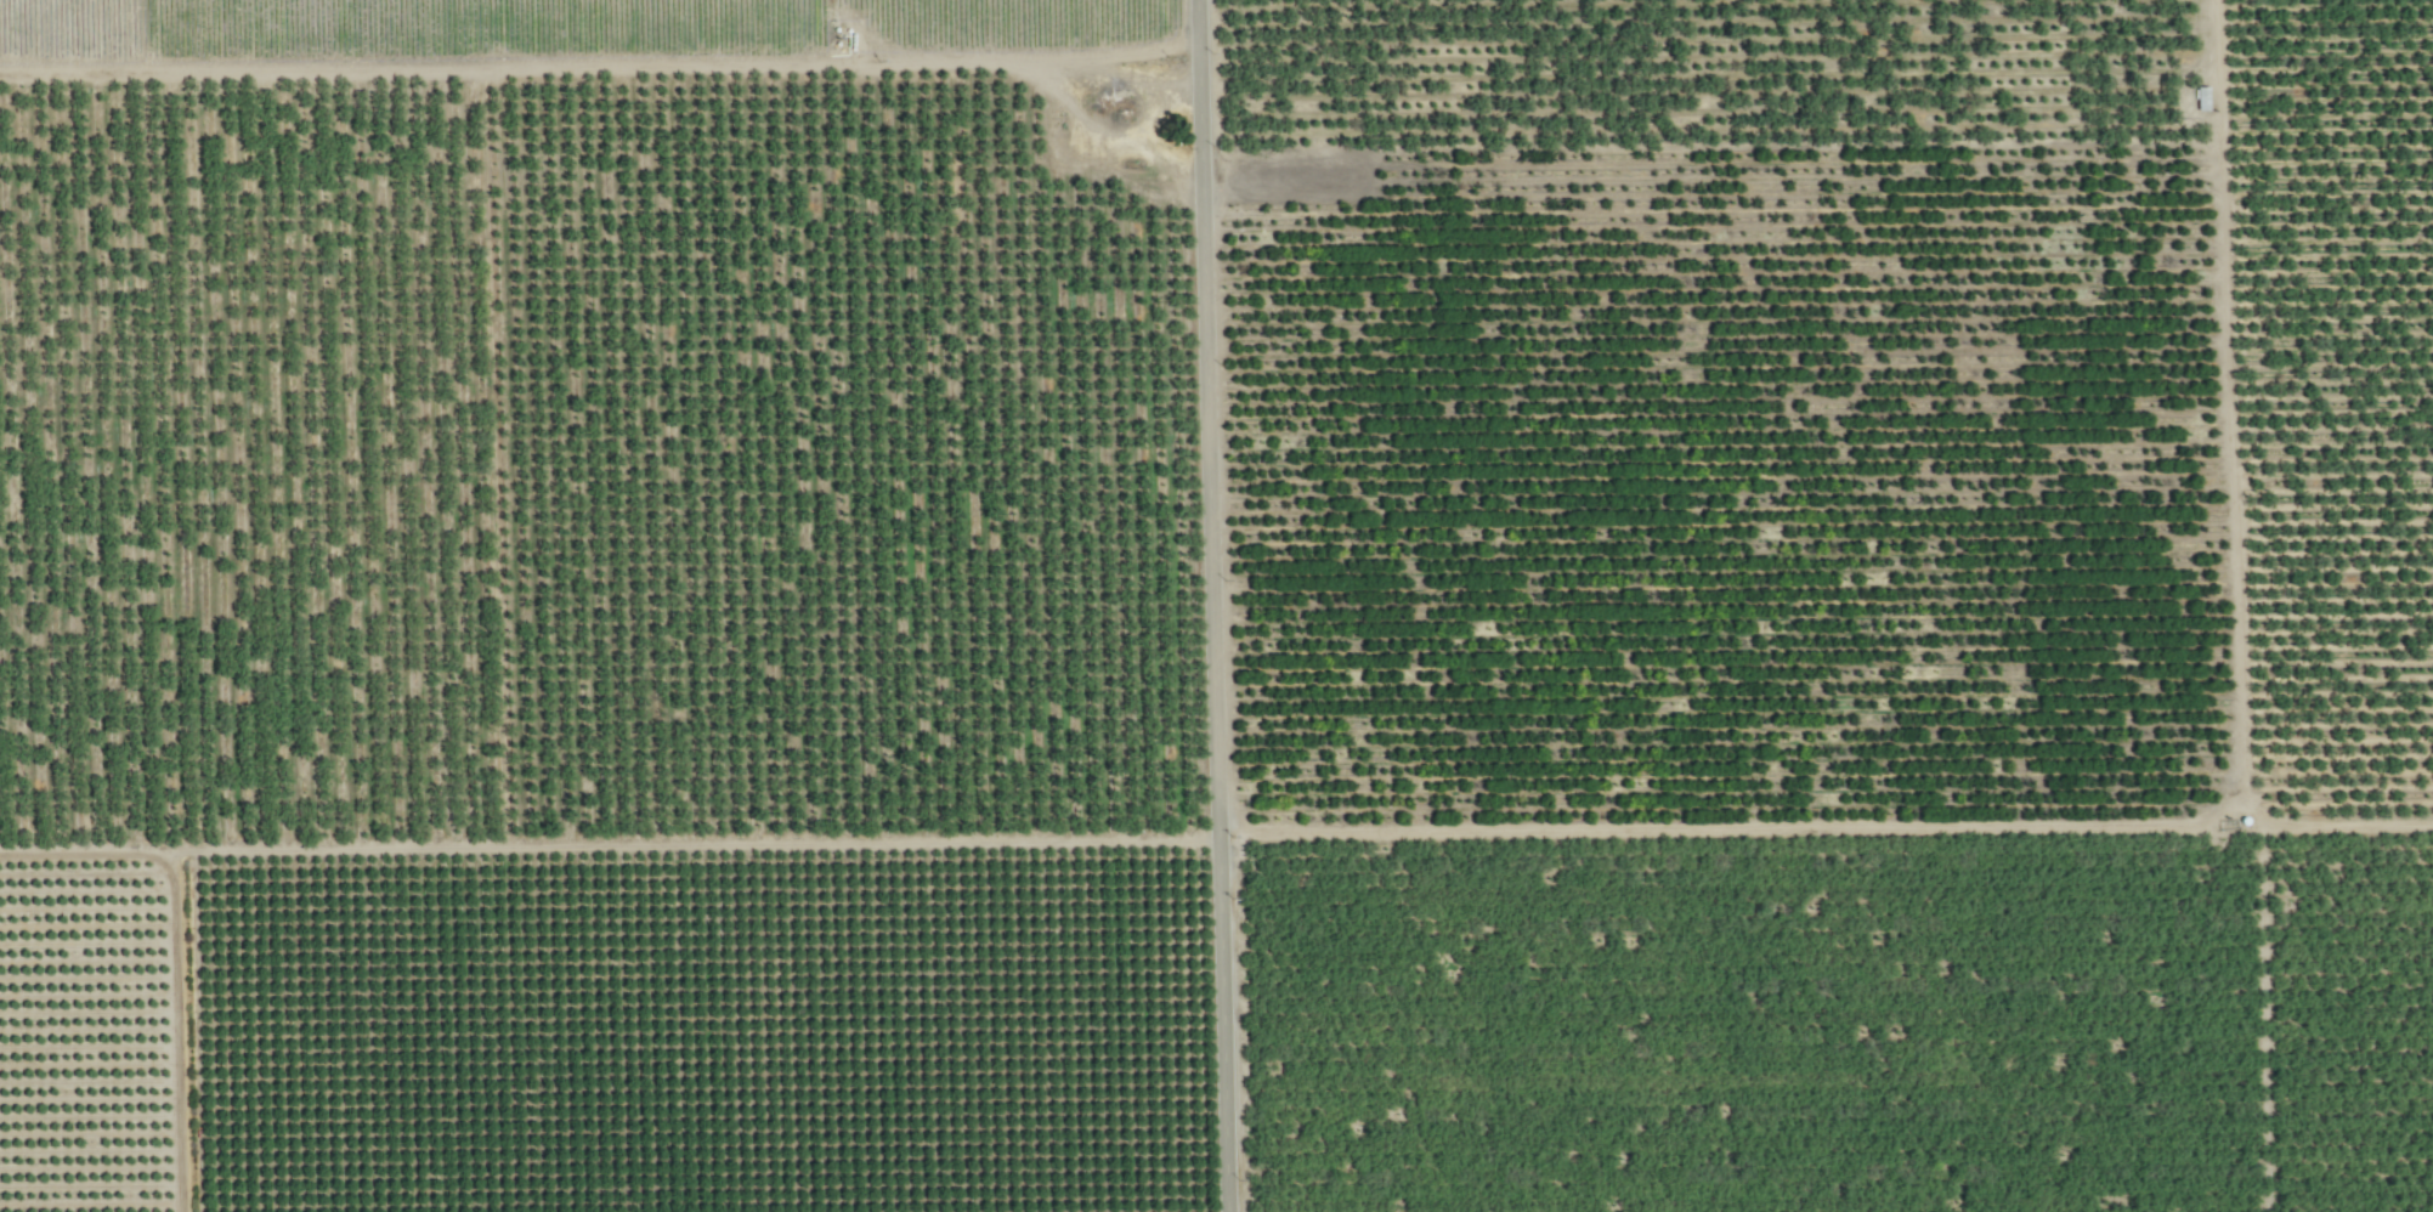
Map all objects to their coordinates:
building: (2197, 102)
road: (1217, 605)
road: (2141, 832)
road: (612, 848)

